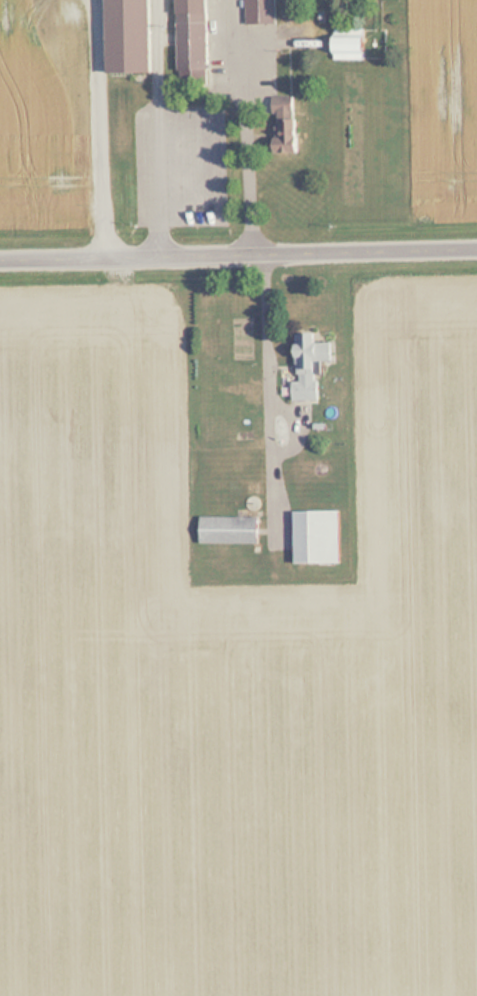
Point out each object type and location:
building: (261, 11)
building: (195, 34)
building: (130, 35)
building: (351, 43)
building: (284, 104)
building: (289, 133)
road: (238, 251)
building: (312, 363)
building: (230, 529)
building: (318, 535)

